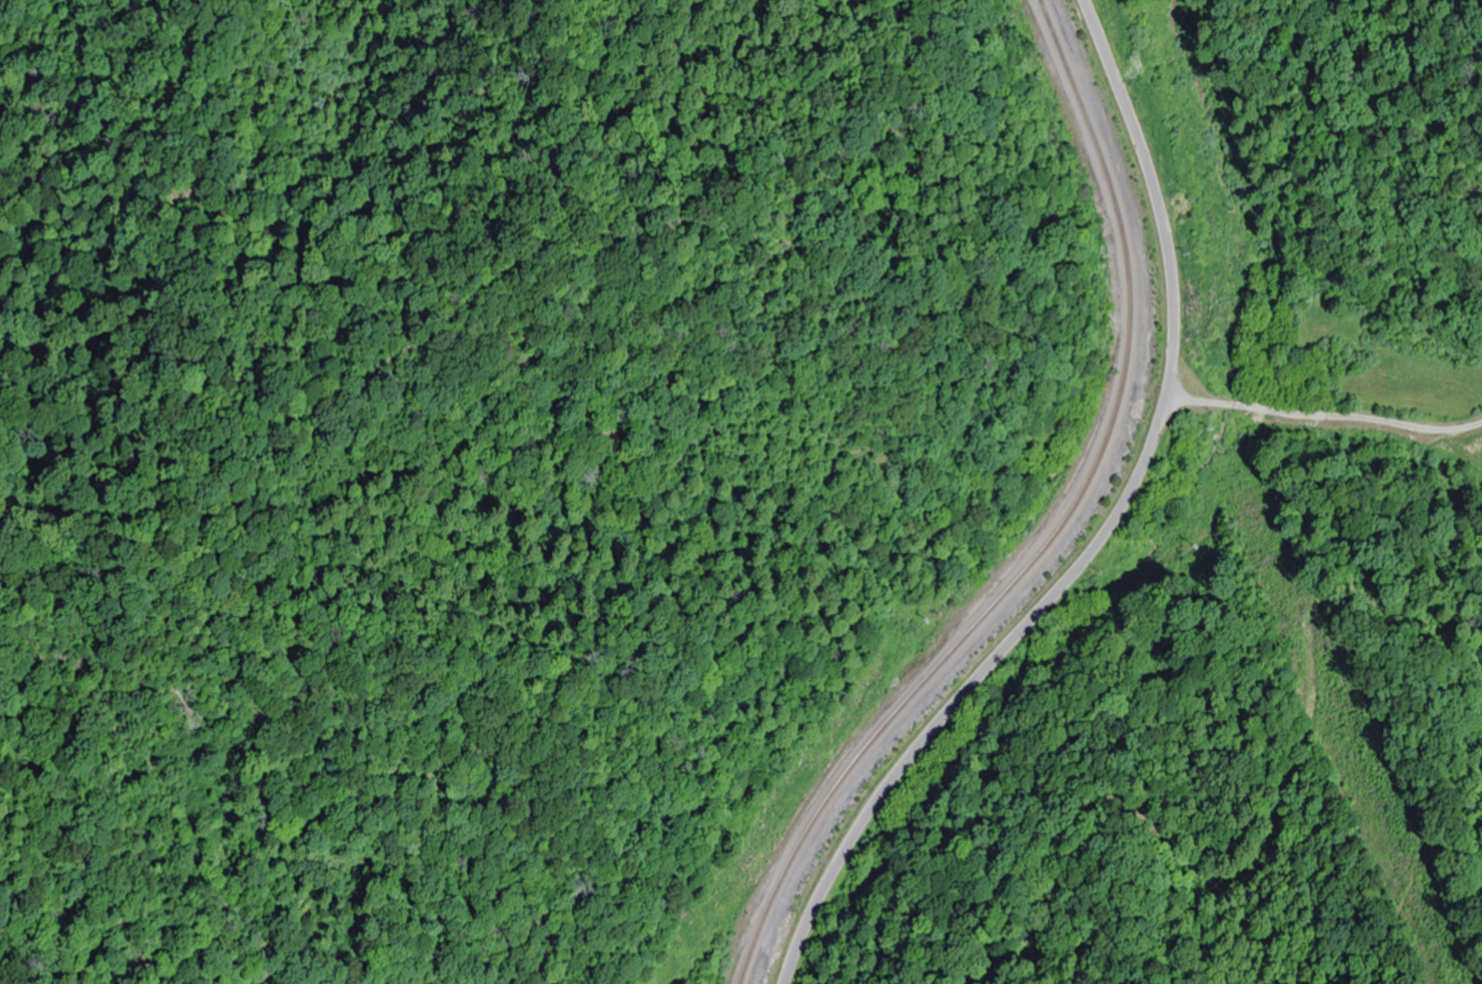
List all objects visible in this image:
road: (1326, 415)
road: (981, 528)
road: (1104, 530)
railway: (1061, 531)

